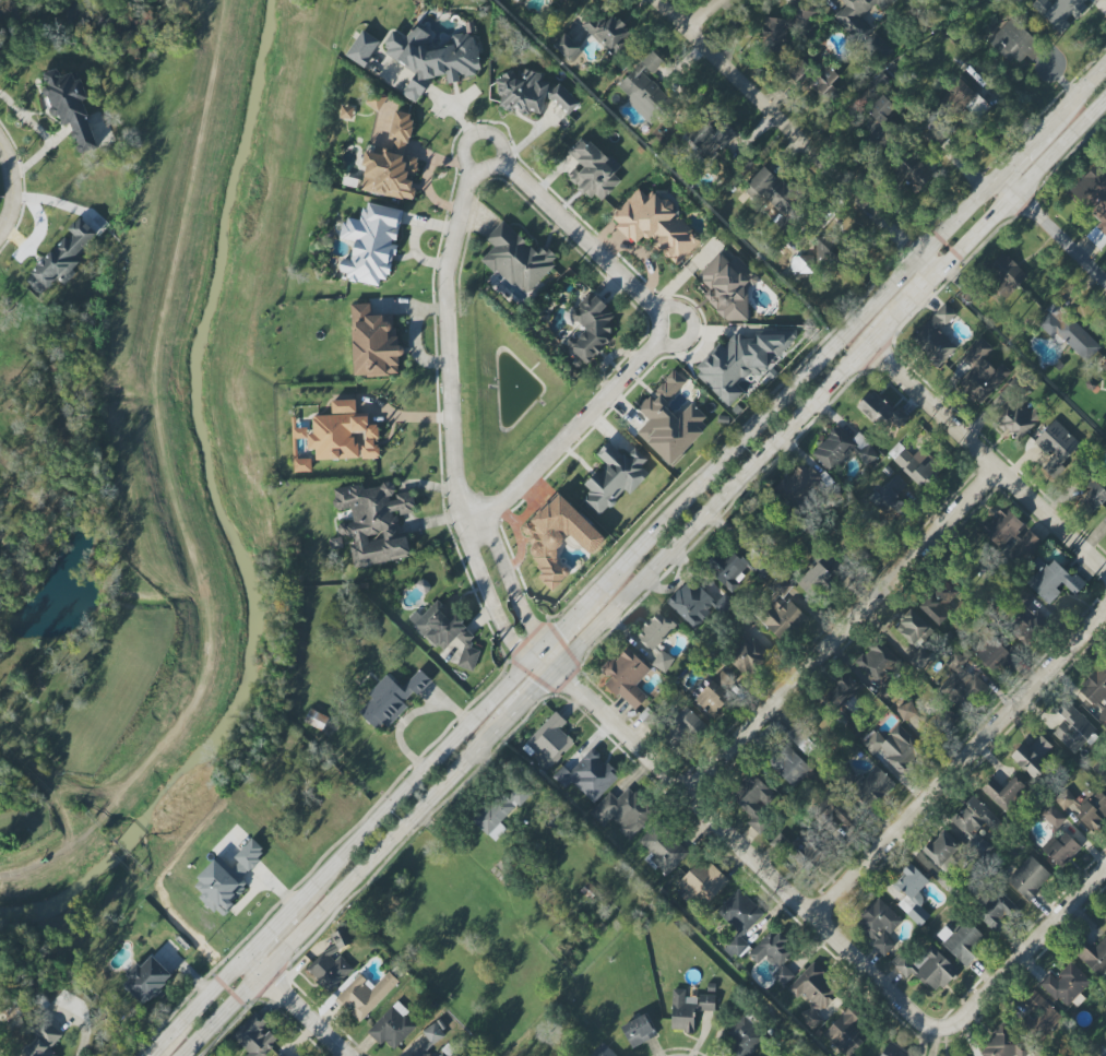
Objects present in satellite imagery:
building: (560, 0)
building: (1065, 12)
road: (709, 16)
building: (801, 16)
building: (864, 26)
building: (608, 31)
building: (1015, 41)
building: (568, 47)
building: (362, 48)
building: (431, 59)
building: (797, 59)
building: (645, 88)
building: (531, 93)
building: (968, 98)
building: (70, 106)
building: (346, 111)
building: (879, 124)
road: (798, 134)
building: (710, 138)
building: (935, 138)
building: (391, 163)
building: (593, 170)
building: (916, 173)
road: (9, 188)
building: (1093, 194)
building: (778, 198)
road: (988, 219)
building: (656, 225)
road: (1051, 225)
road: (583, 236)
building: (370, 244)
building: (62, 258)
building: (518, 259)
building: (1004, 274)
building: (728, 287)
building: (592, 329)
building: (1068, 332)
building: (936, 335)
road: (445, 341)
building: (373, 343)
building: (742, 363)
building: (1104, 366)
building: (980, 372)
building: (880, 412)
building: (671, 417)
building: (1015, 418)
road: (575, 432)
building: (341, 434)
building: (1056, 446)
building: (842, 449)
road: (988, 458)
building: (302, 465)
building: (913, 466)
building: (614, 477)
building: (799, 485)
building: (889, 495)
building: (1094, 496)
river: (224, 515)
building: (374, 522)
building: (1002, 527)
building: (558, 537)
building: (1025, 546)
road: (626, 559)
building: (737, 568)
building: (1053, 580)
building: (816, 582)
road: (515, 595)
building: (698, 604)
building: (938, 604)
road: (497, 609)
building: (781, 610)
road: (843, 626)
building: (1026, 626)
building: (912, 627)
building: (445, 631)
building: (657, 639)
building: (995, 654)
building: (748, 656)
building: (919, 658)
building: (880, 668)
building: (626, 677)
building: (961, 684)
building: (1095, 689)
building: (716, 692)
road: (526, 697)
building: (391, 699)
building: (847, 702)
building: (317, 717)
building: (1072, 727)
building: (682, 731)
building: (800, 739)
building: (894, 747)
building: (1032, 758)
road: (961, 763)
building: (787, 764)
building: (587, 776)
building: (869, 786)
building: (1002, 791)
building: (1065, 799)
building: (753, 800)
building: (1092, 807)
building: (500, 811)
building: (622, 811)
building: (840, 812)
building: (1053, 817)
building: (973, 824)
road: (750, 847)
building: (941, 849)
building: (1061, 849)
building: (662, 850)
building: (807, 851)
building: (227, 878)
building: (1028, 878)
building: (702, 882)
building: (913, 894)
building: (997, 909)
building: (1104, 917)
building: (739, 919)
building: (879, 925)
building: (341, 938)
building: (962, 941)
building: (774, 954)
building: (1093, 956)
road: (1027, 959)
building: (927, 968)
building: (330, 970)
building: (146, 980)
building: (1065, 985)
building: (813, 994)
building: (365, 995)
road: (297, 1005)
building: (688, 1009)
building: (1038, 1018)
building: (392, 1027)
building: (638, 1031)
building: (436, 1033)
building: (844, 1033)
building: (254, 1037)
building: (745, 1037)
building: (43, 1039)
building: (1003, 1044)
building: (603, 1051)
building: (895, 1051)
building: (419, 1053)
building: (772, 1054)
building: (442, 1055)

